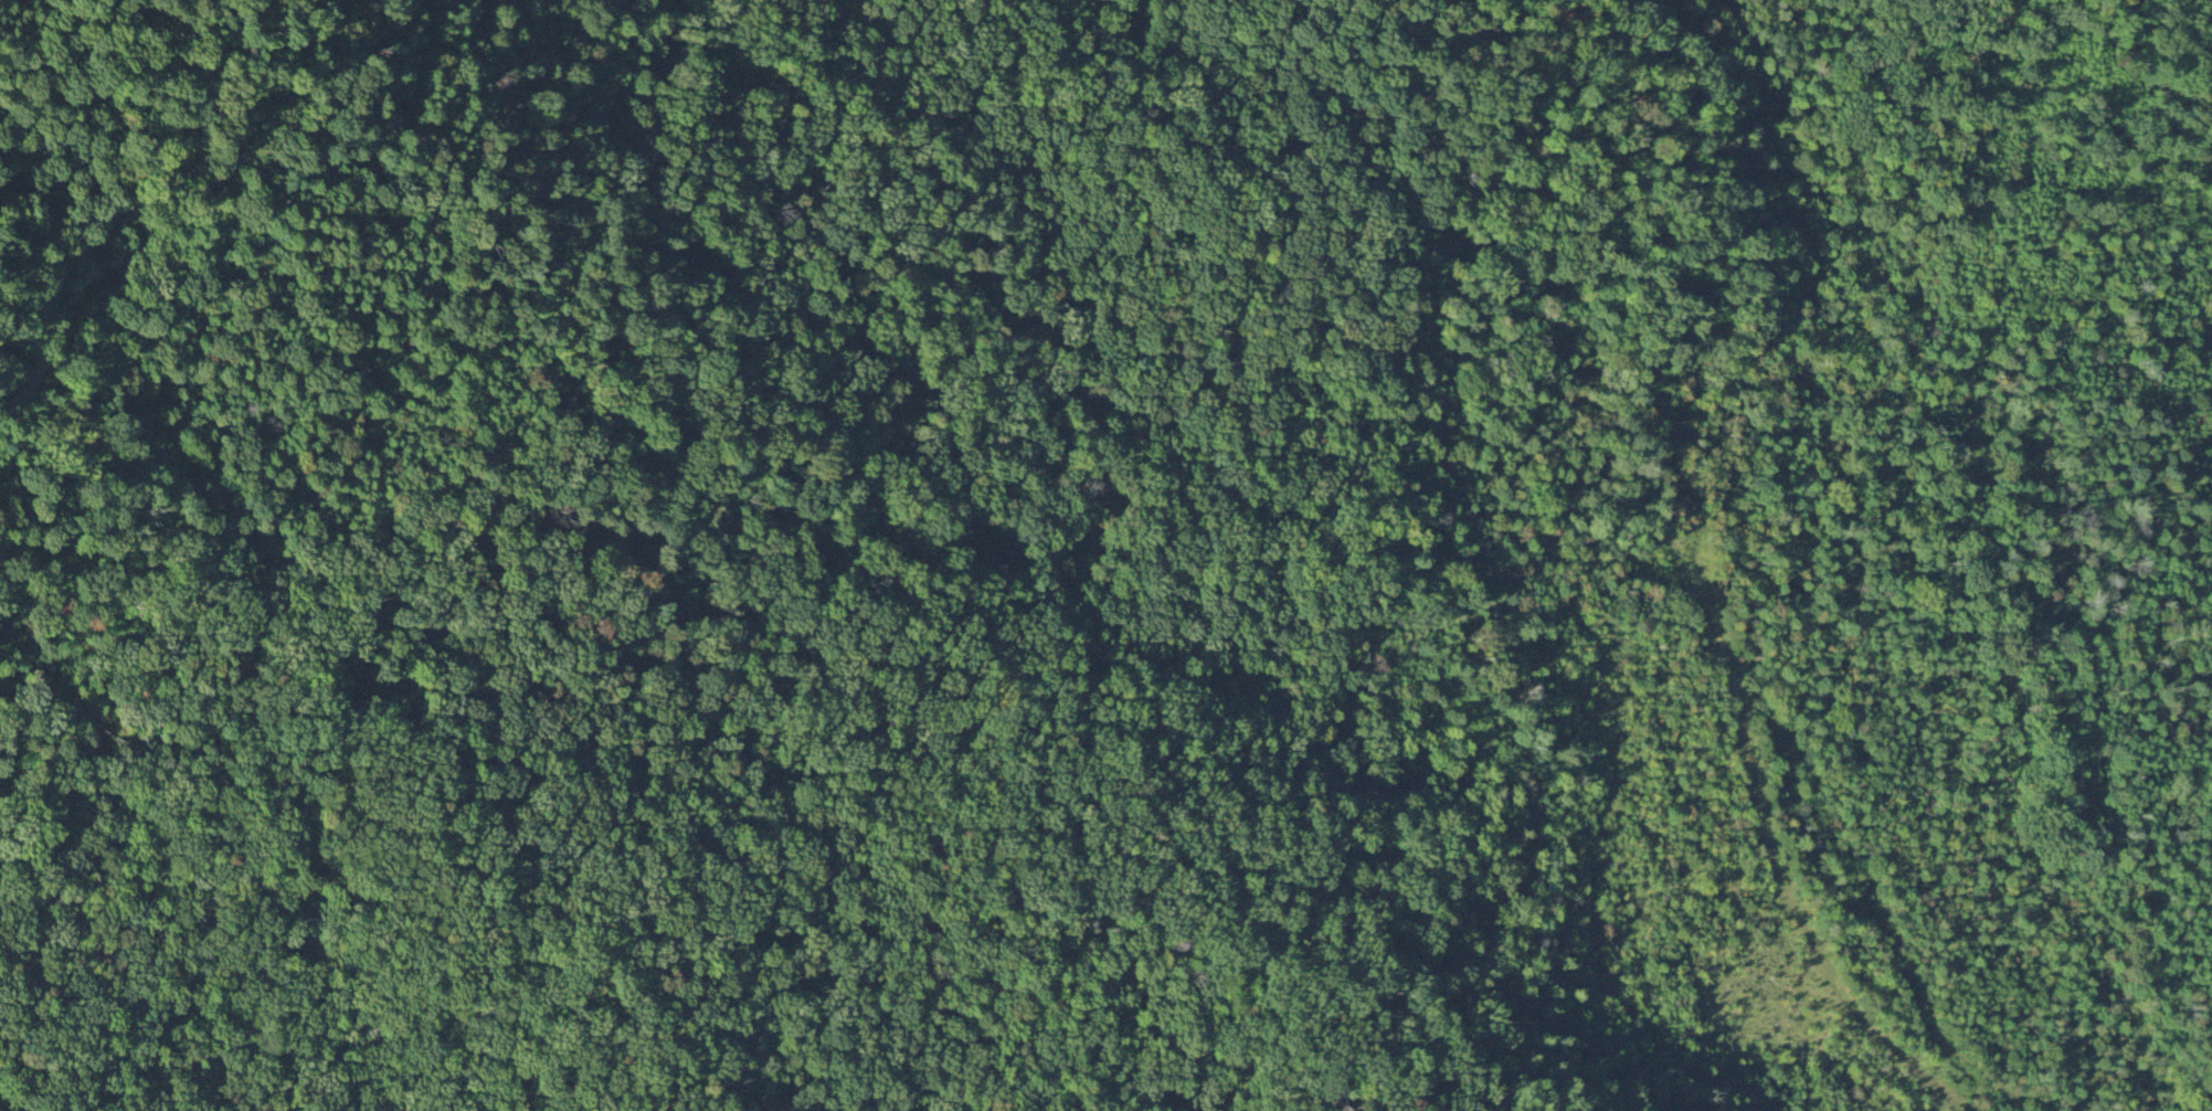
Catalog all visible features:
road: (253, 150)
road: (229, 226)
road: (1766, 803)

